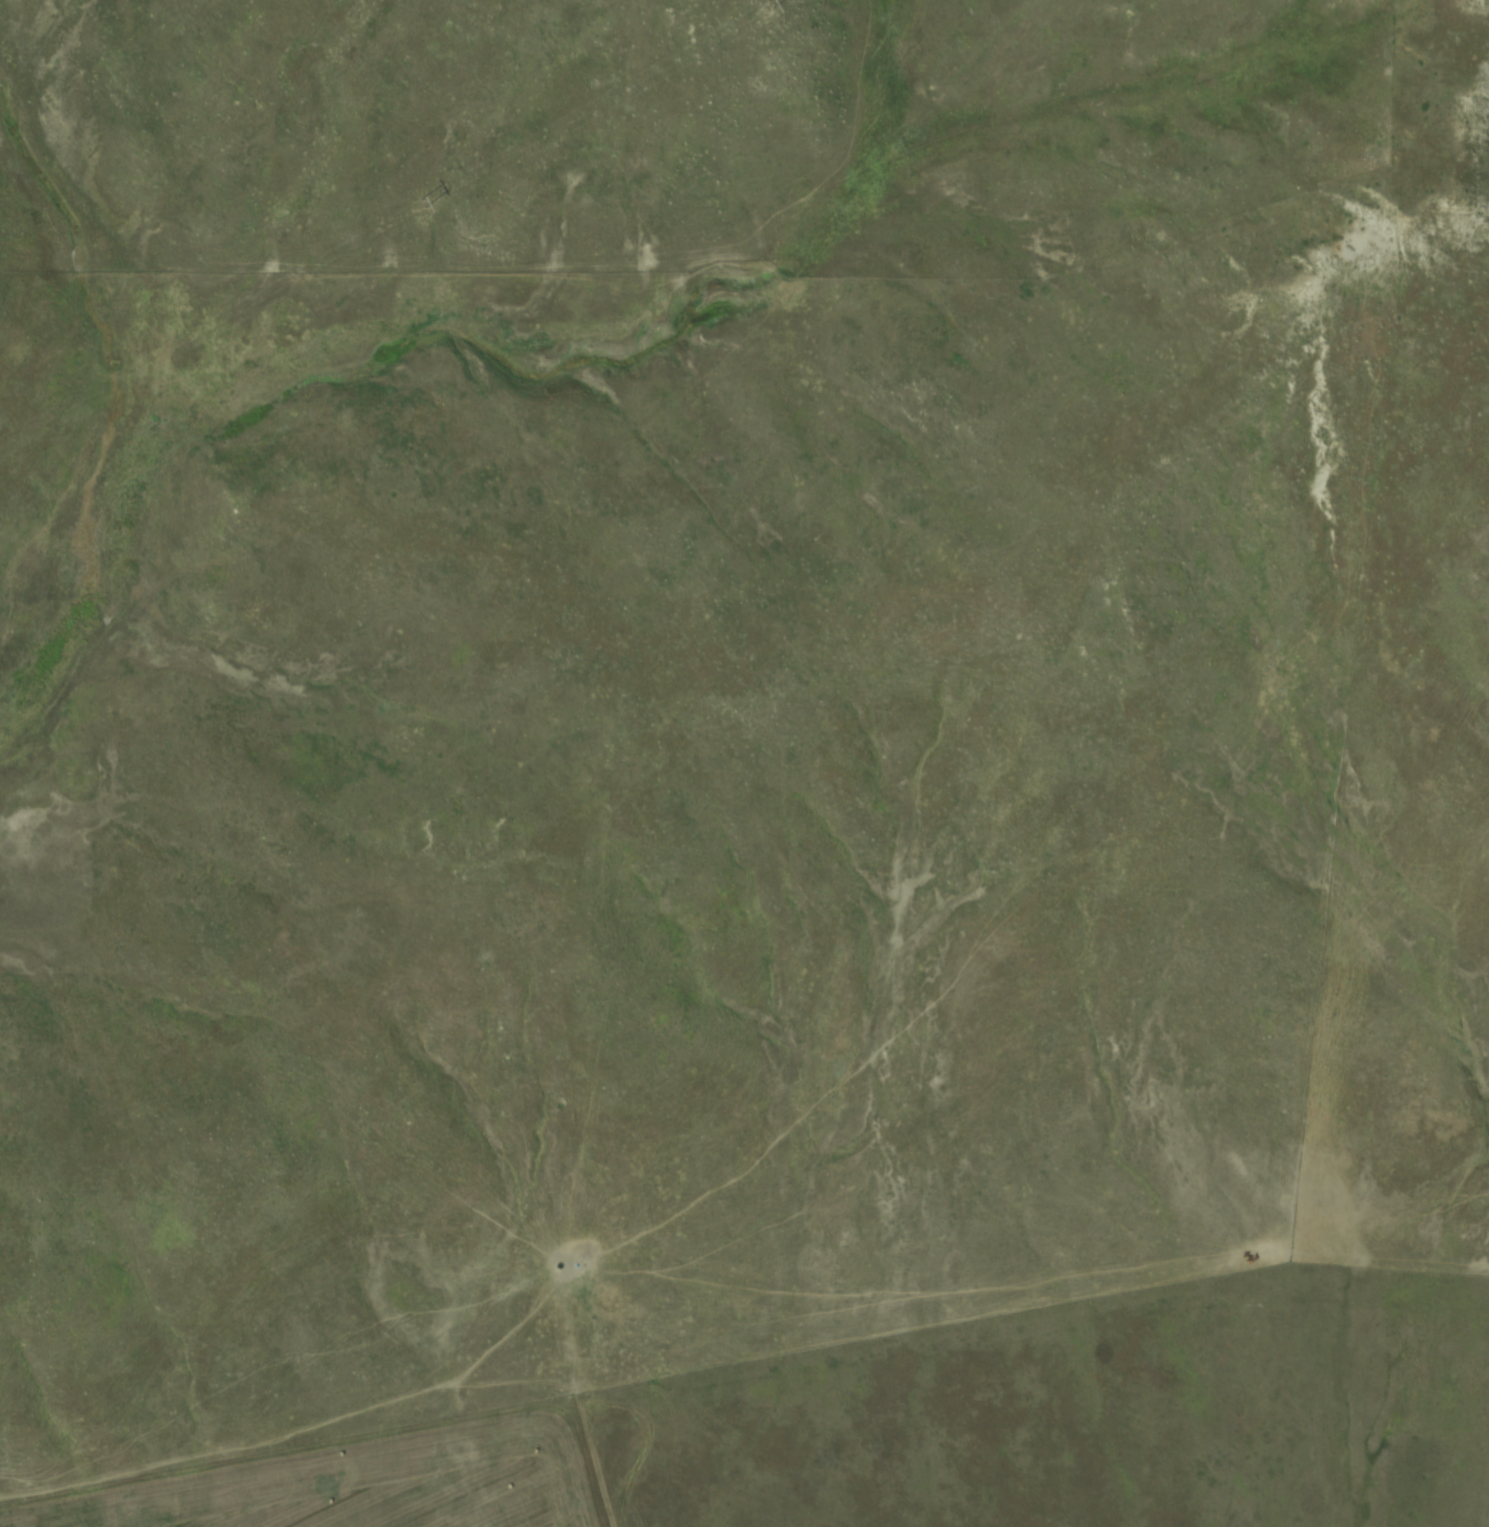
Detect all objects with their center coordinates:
power tower: (771, 5)
power tower: (423, 205)

